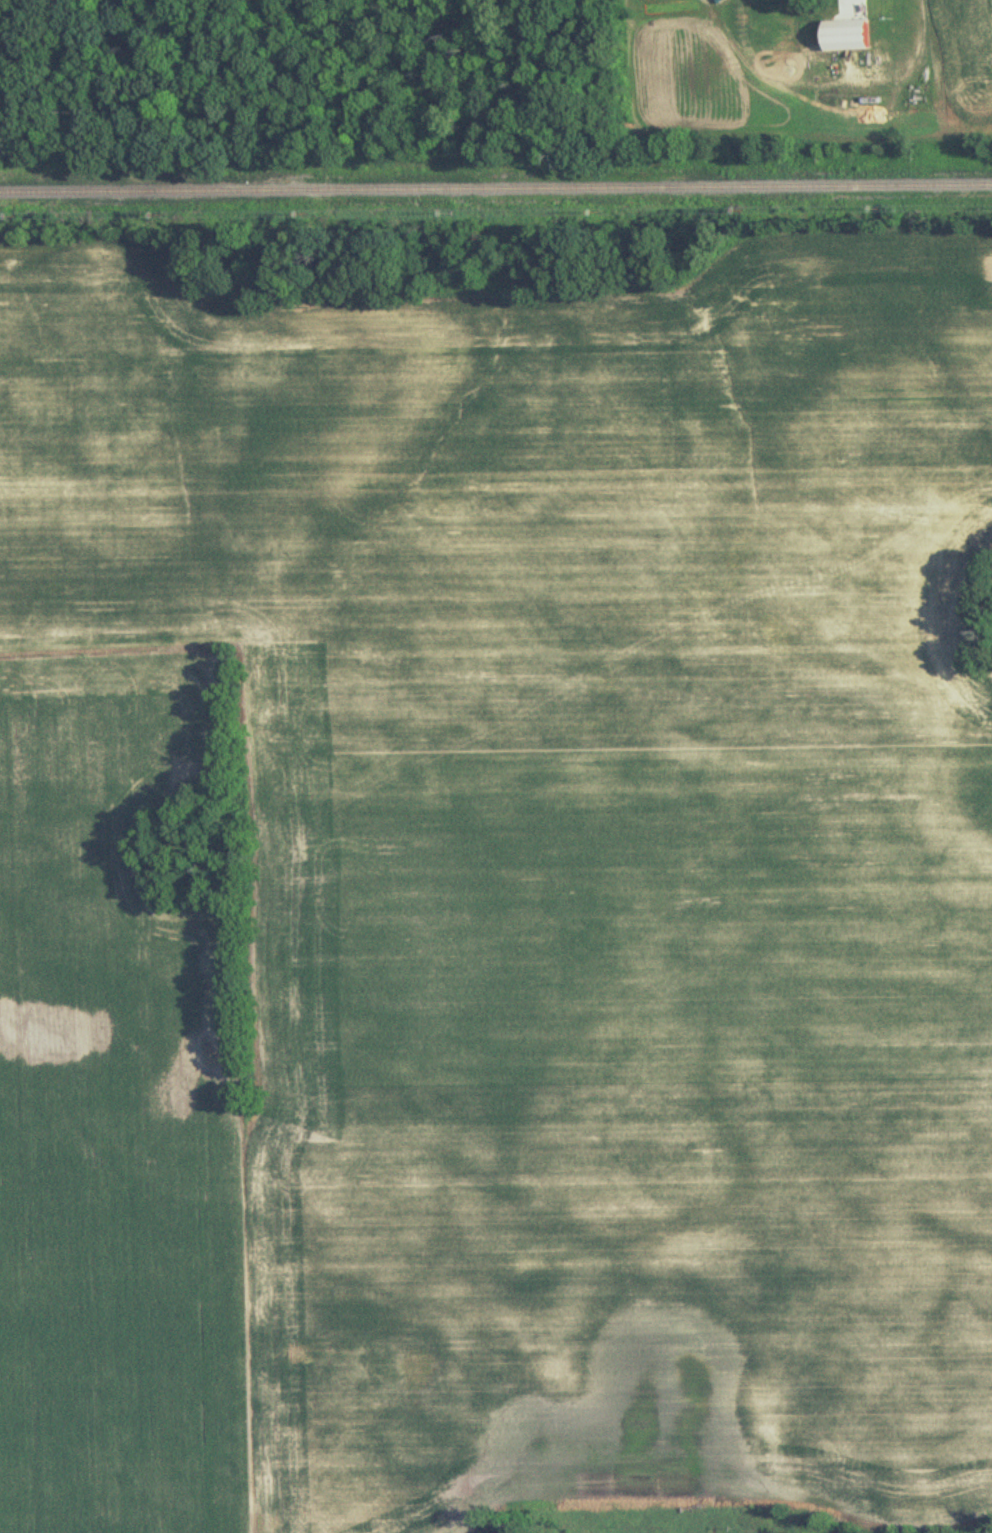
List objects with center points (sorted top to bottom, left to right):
railway: (496, 189)

